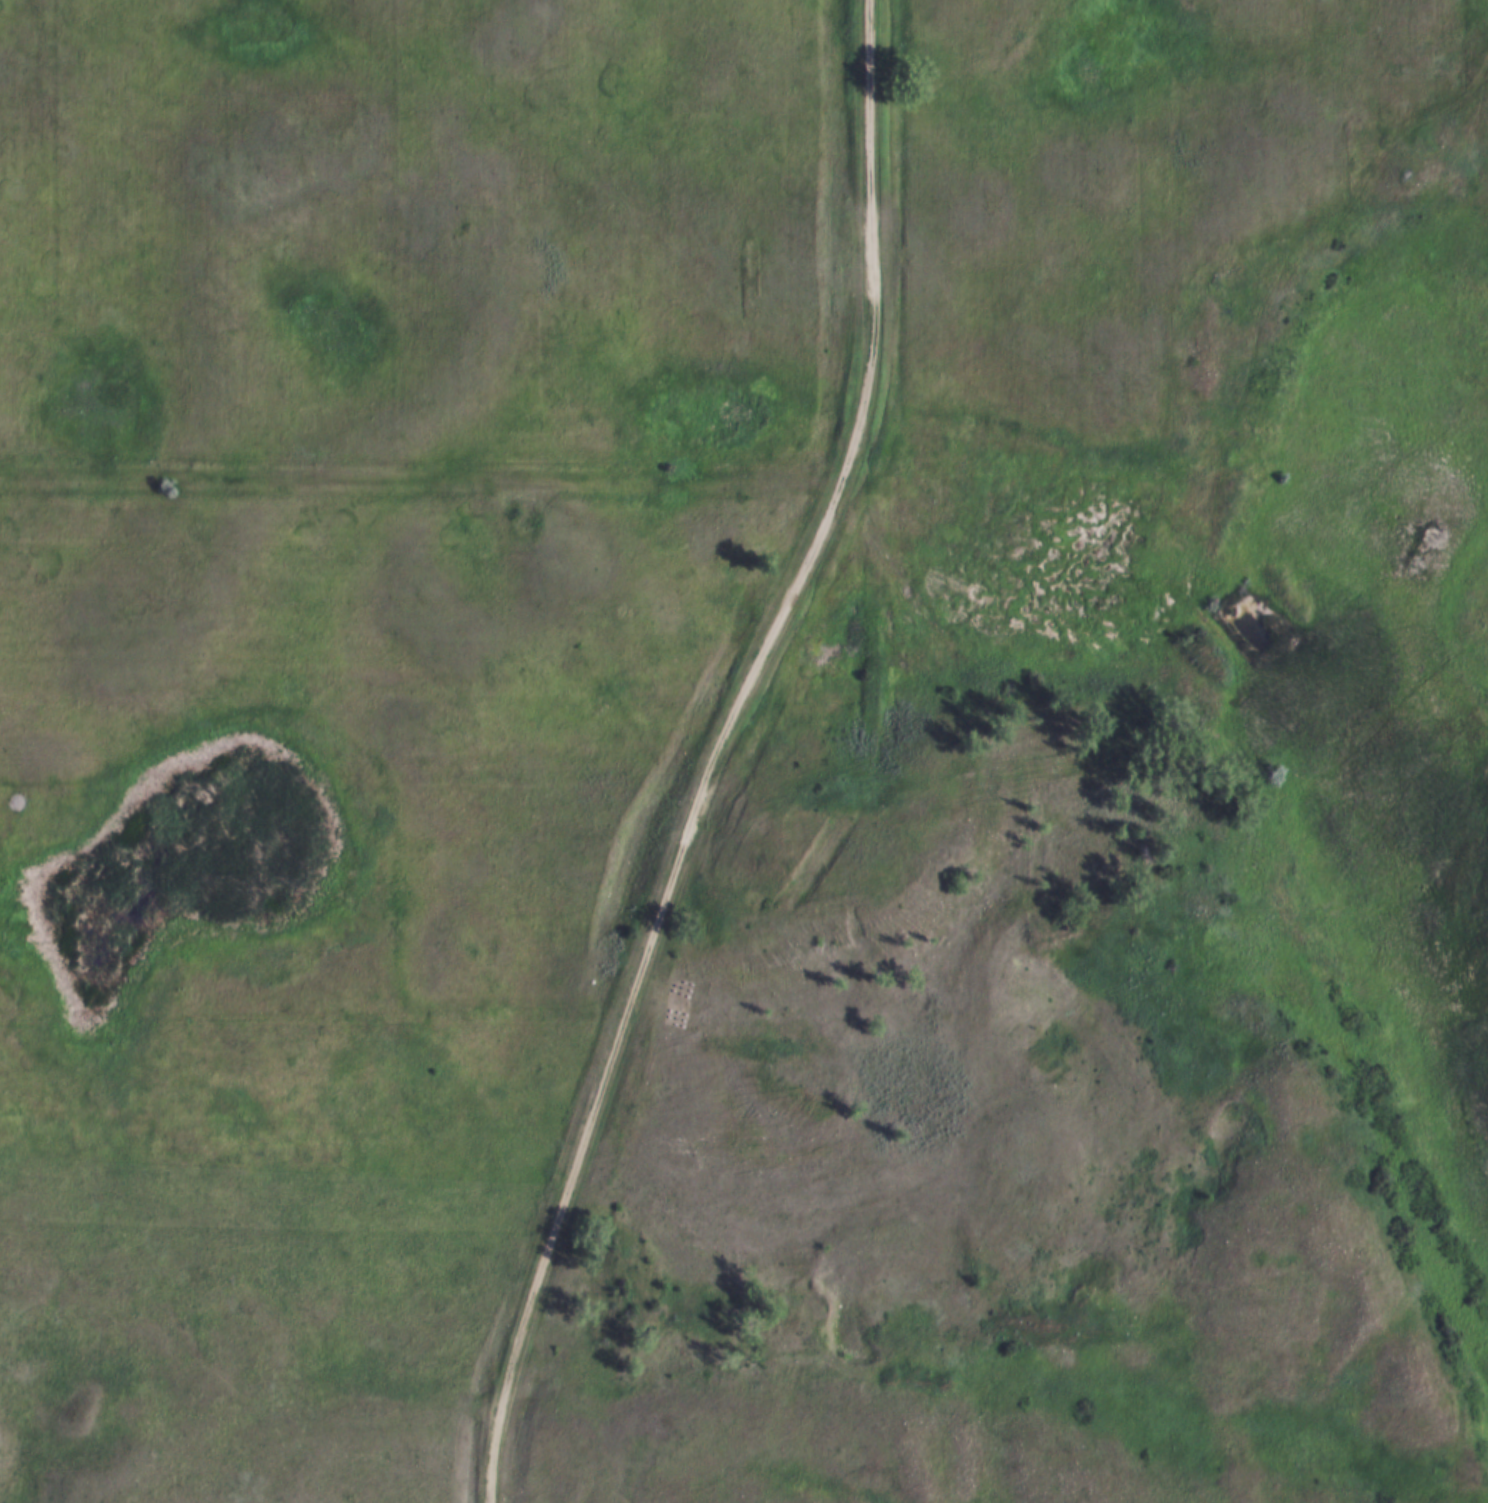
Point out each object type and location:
road: (422, 473)
road: (716, 753)

